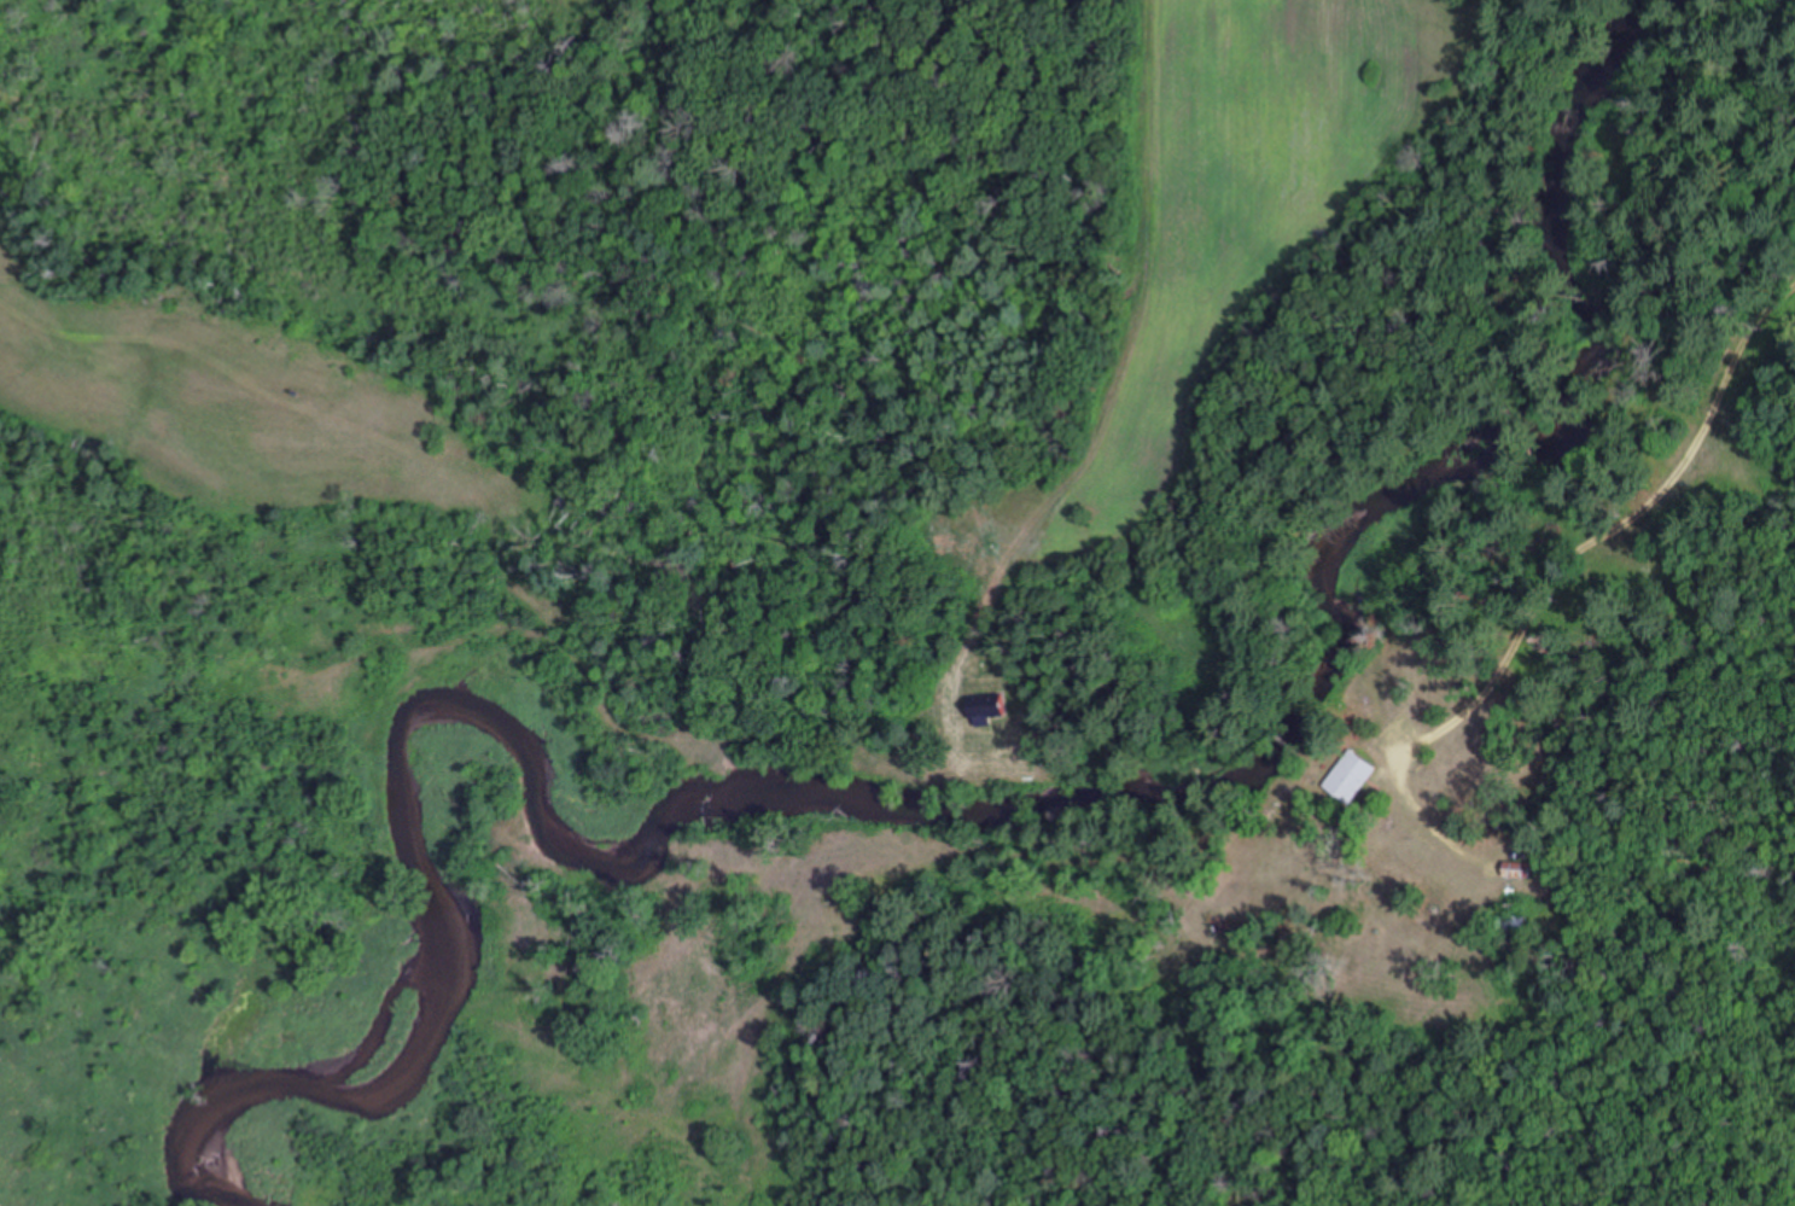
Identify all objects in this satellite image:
road: (1630, 493)
building: (1346, 779)
building: (1514, 873)
building: (1506, 926)

